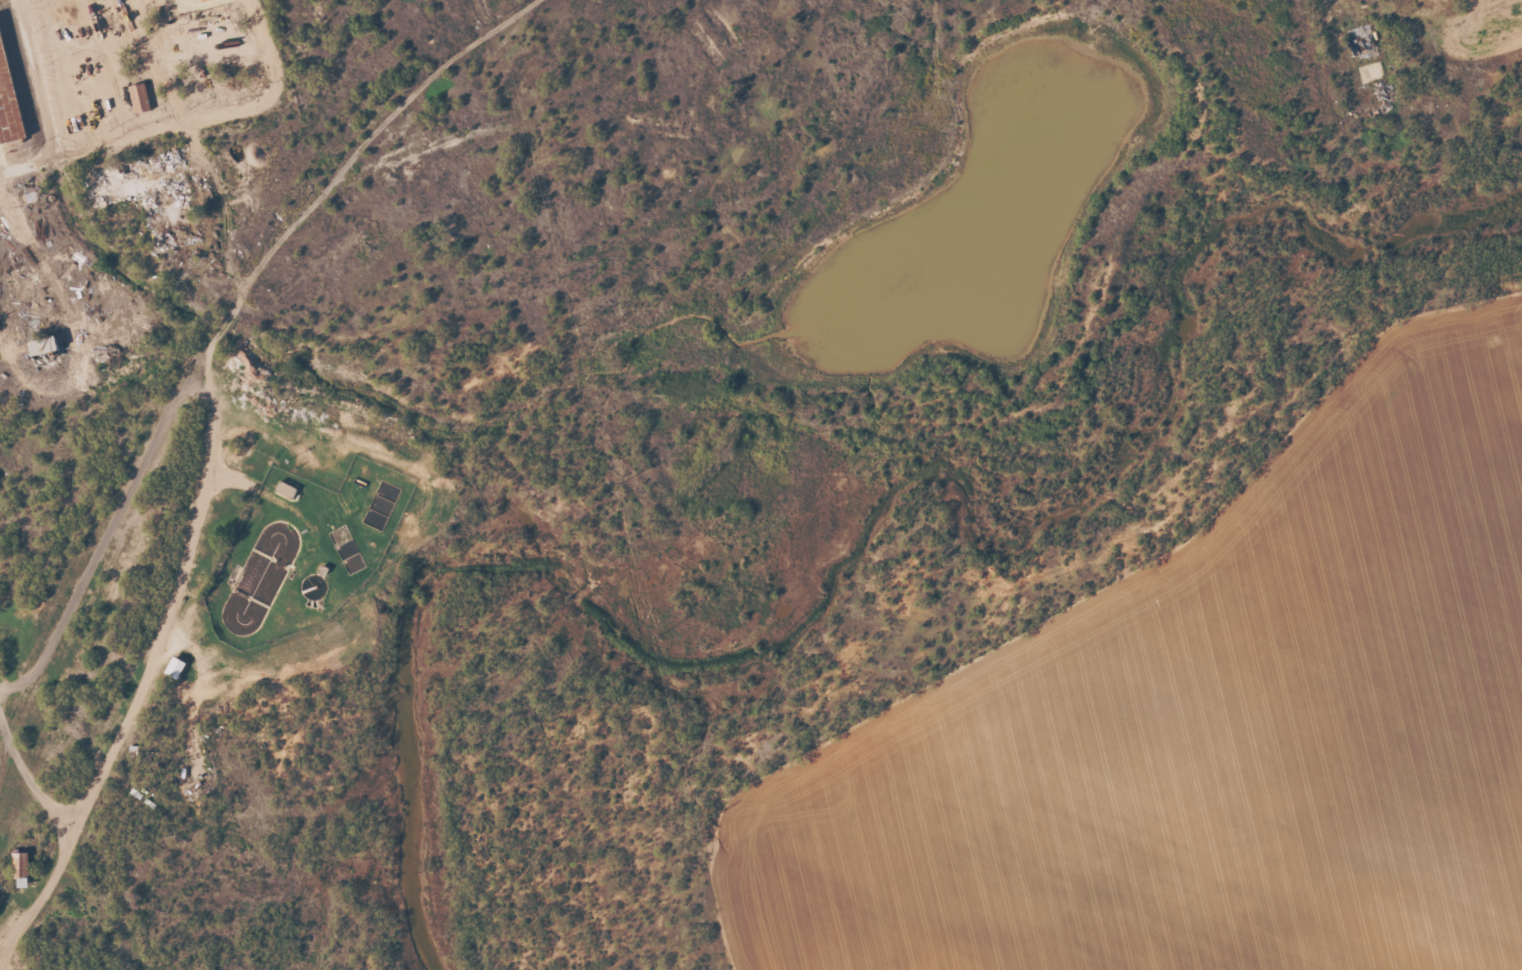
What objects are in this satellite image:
road: (271, 44)
road: (37, 77)
building: (10, 98)
building: (142, 98)
road: (141, 135)
building: (49, 346)
building: (289, 490)
building: (178, 667)
building: (24, 868)

